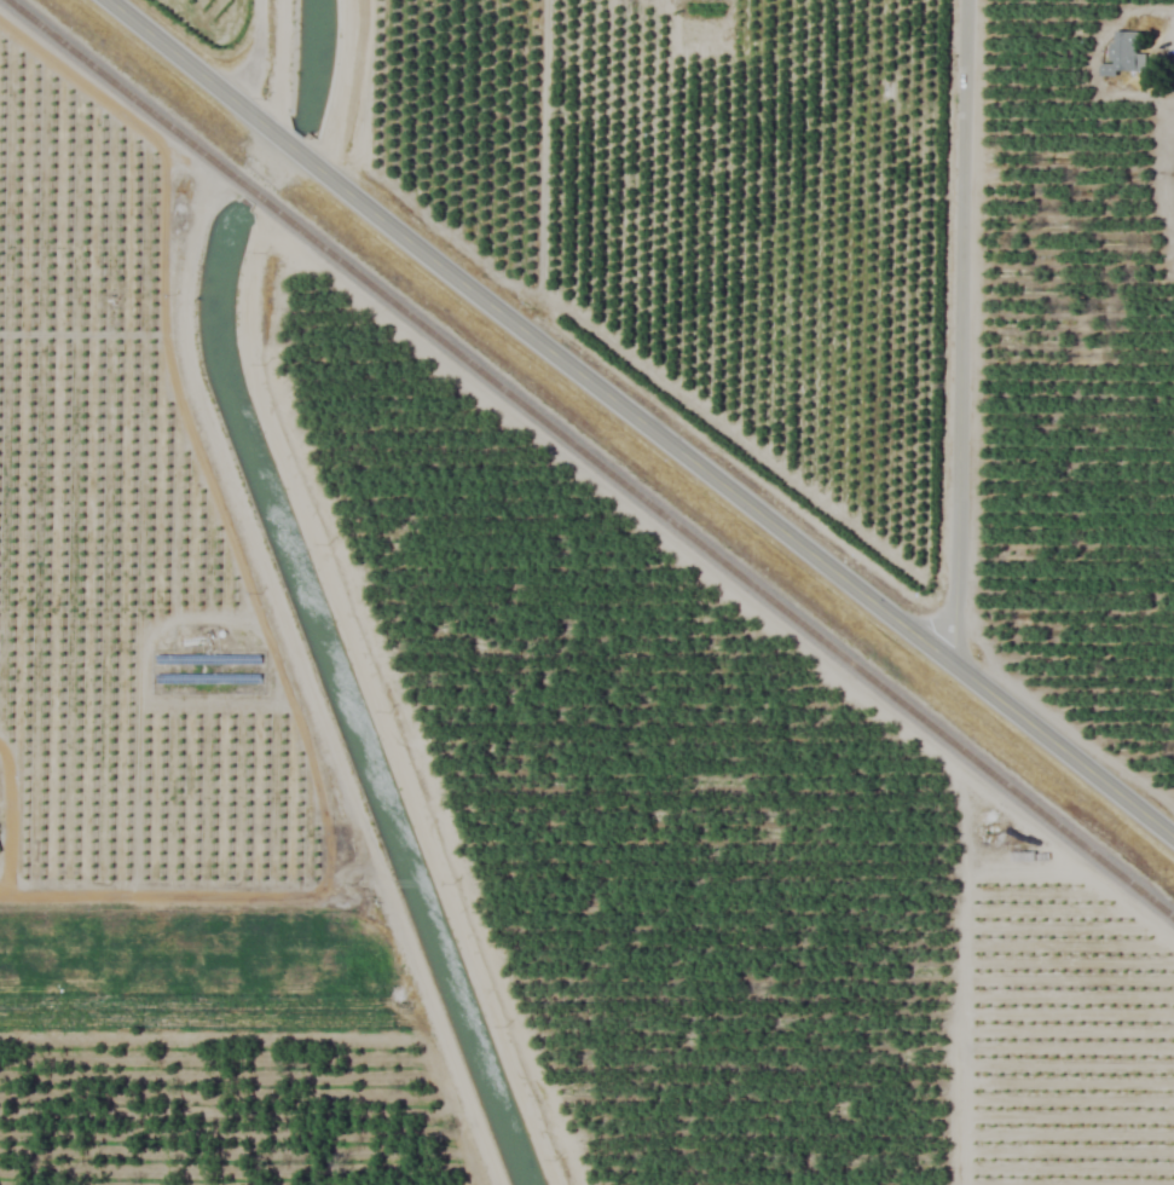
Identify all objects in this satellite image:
building: (938, 7)
road: (250, 52)
building: (1123, 54)
road: (961, 333)
road: (638, 421)
railway: (589, 459)
crop: (586, 592)
road: (7, 813)
road: (169, 895)

